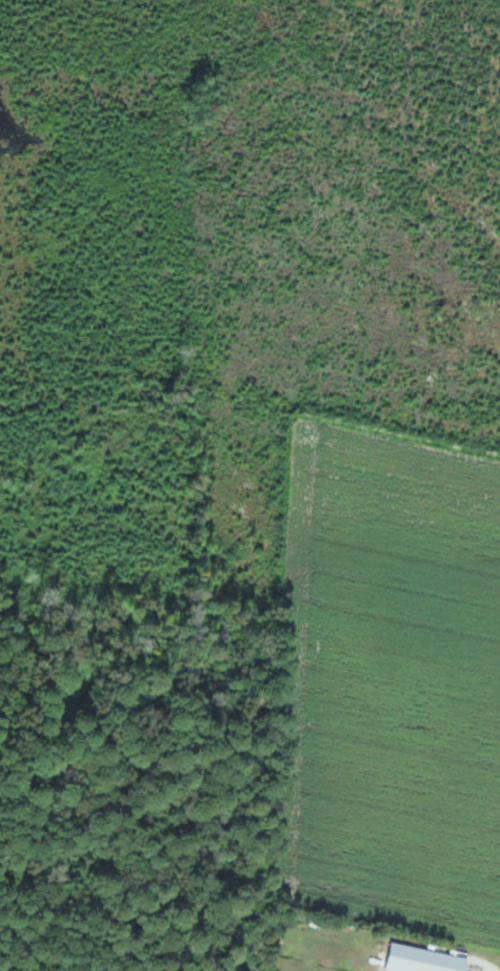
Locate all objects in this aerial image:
building: (425, 960)

